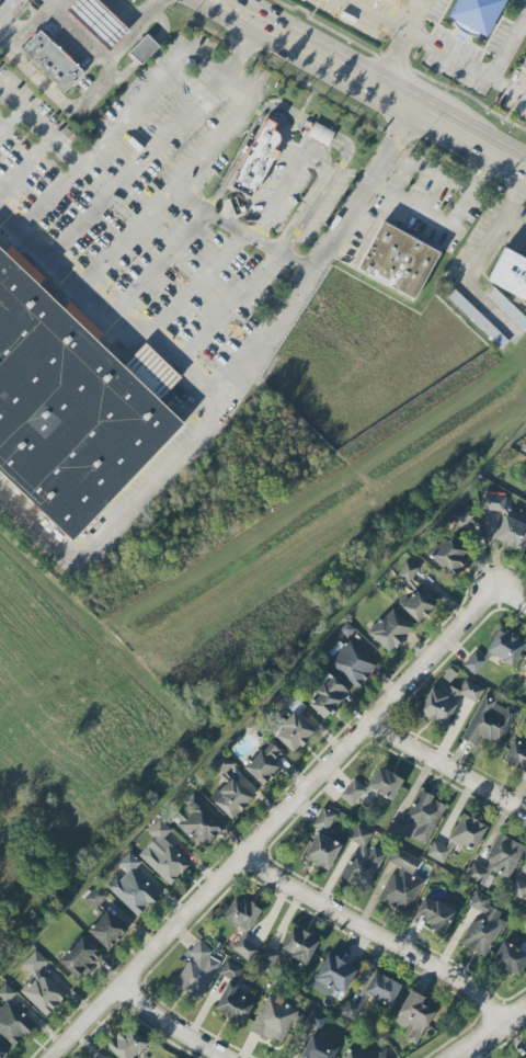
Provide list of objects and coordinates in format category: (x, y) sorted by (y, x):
road: (0, 0)
building: (393, 0)
building: (476, 13)
road: (374, 18)
building: (96, 21)
road: (30, 23)
road: (75, 32)
road: (401, 42)
road: (507, 45)
road: (241, 47)
building: (148, 48)
gas station: (87, 52)
building: (50, 61)
building: (524, 62)
road: (466, 66)
road: (225, 73)
road: (371, 80)
road: (88, 95)
road: (12, 121)
road: (311, 122)
road: (43, 124)
building: (320, 134)
road: (107, 138)
building: (264, 149)
road: (27, 163)
road: (138, 167)
road: (290, 181)
road: (471, 184)
road: (169, 195)
parking lot: (307, 198)
parking lot: (155, 205)
parking lot: (421, 206)
road: (427, 215)
road: (513, 224)
road: (244, 230)
building: (404, 259)
road: (473, 259)
road: (159, 263)
building: (508, 274)
road: (202, 283)
road: (235, 306)
building: (506, 307)
road: (107, 314)
building: (476, 318)
road: (265, 343)
building: (151, 369)
building: (73, 405)
building: (492, 502)
building: (461, 515)
building: (512, 532)
road: (41, 535)
building: (448, 554)
building: (407, 571)
road: (519, 600)
building: (414, 601)
building: (388, 629)
building: (504, 647)
building: (473, 662)
building: (351, 663)
building: (523, 665)
building: (325, 696)
building: (282, 699)
building: (446, 702)
building: (488, 723)
building: (291, 732)
building: (516, 754)
building: (262, 763)
building: (221, 765)
road: (450, 772)
building: (373, 786)
building: (231, 799)
building: (323, 819)
building: (418, 819)
building: (198, 822)
road: (282, 822)
building: (458, 838)
building: (321, 851)
building: (162, 854)
building: (362, 861)
building: (496, 861)
building: (401, 883)
building: (131, 887)
building: (517, 889)
building: (94, 897)
building: (240, 913)
building: (433, 914)
building: (481, 925)
building: (105, 930)
road: (369, 941)
building: (298, 946)
building: (244, 948)
building: (78, 957)
building: (267, 958)
building: (510, 958)
building: (196, 971)
building: (230, 971)
building: (332, 976)
building: (39, 986)
building: (380, 989)
building: (235, 1003)
building: (412, 1016)
building: (11, 1019)
building: (273, 1021)
road: (159, 1028)
road: (483, 1028)
building: (312, 1038)
building: (126, 1044)
building: (1, 1053)
building: (364, 1054)
building: (524, 1056)

